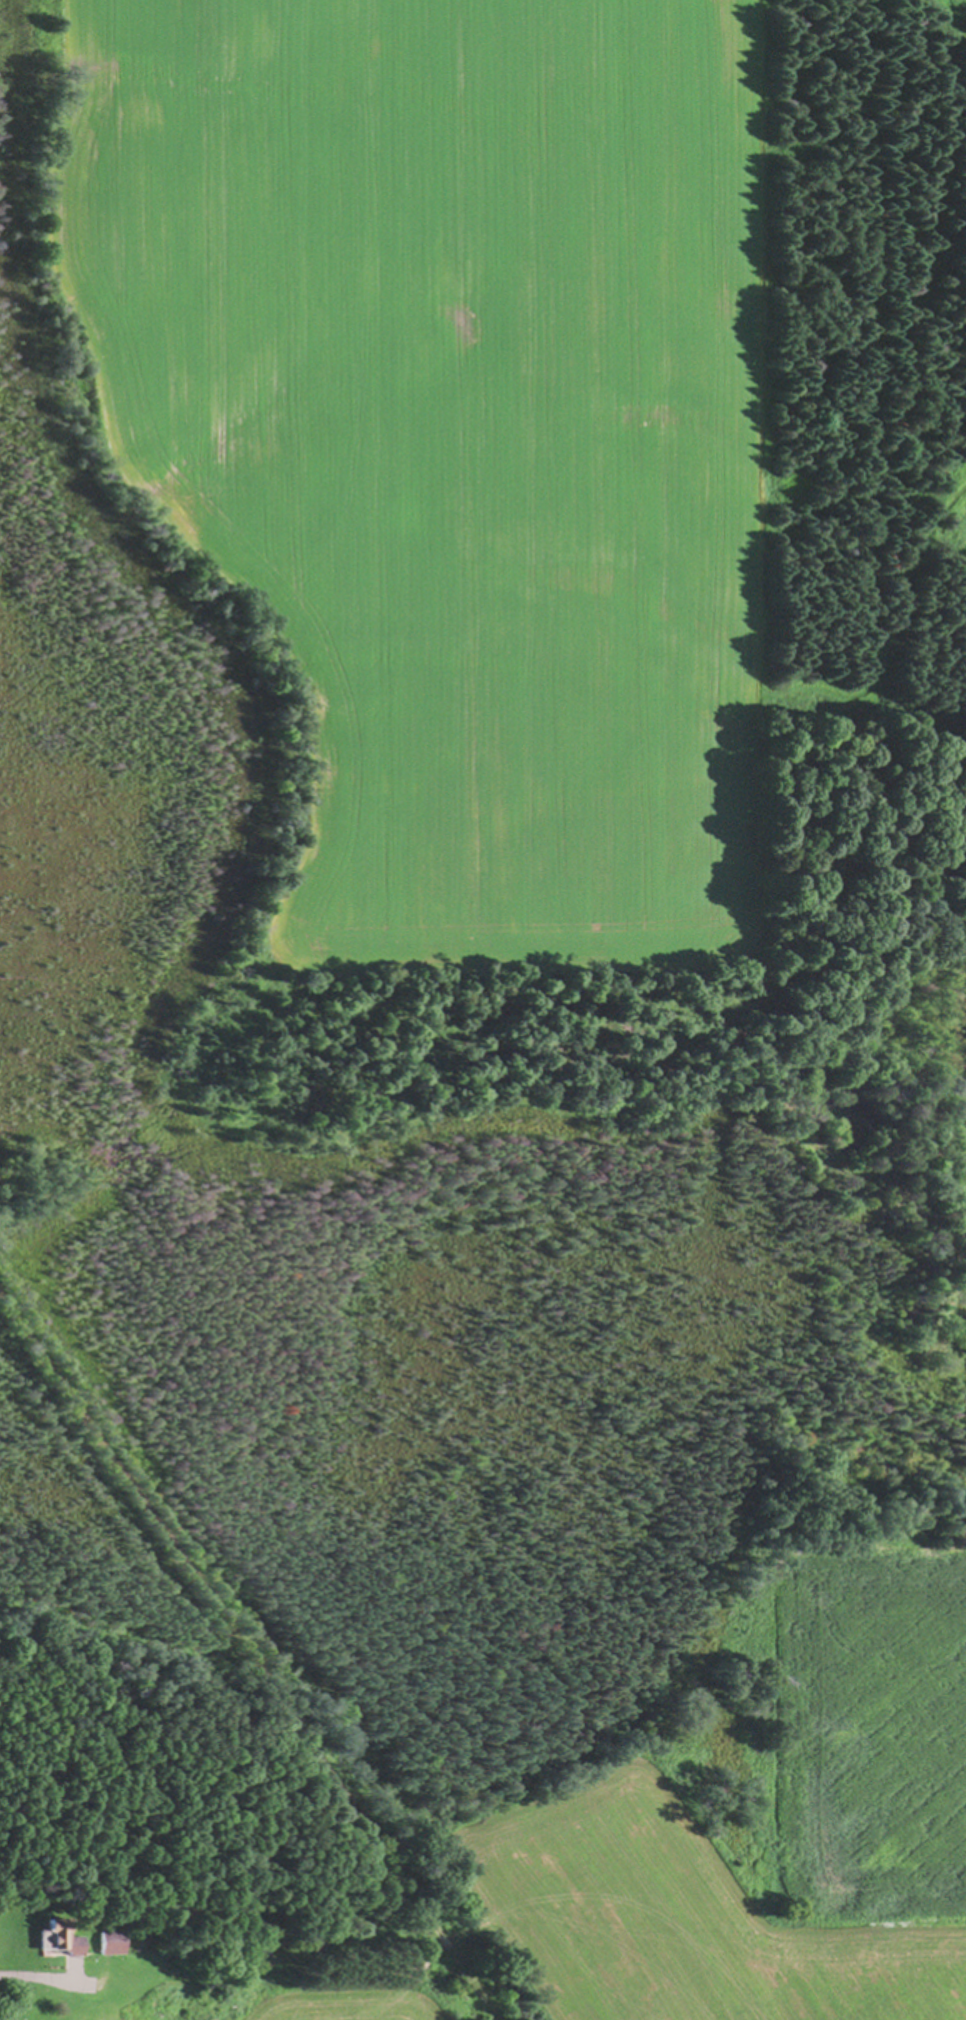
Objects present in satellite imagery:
road: (251, 1657)
building: (51, 1937)
building: (105, 1941)
road: (36, 1978)

